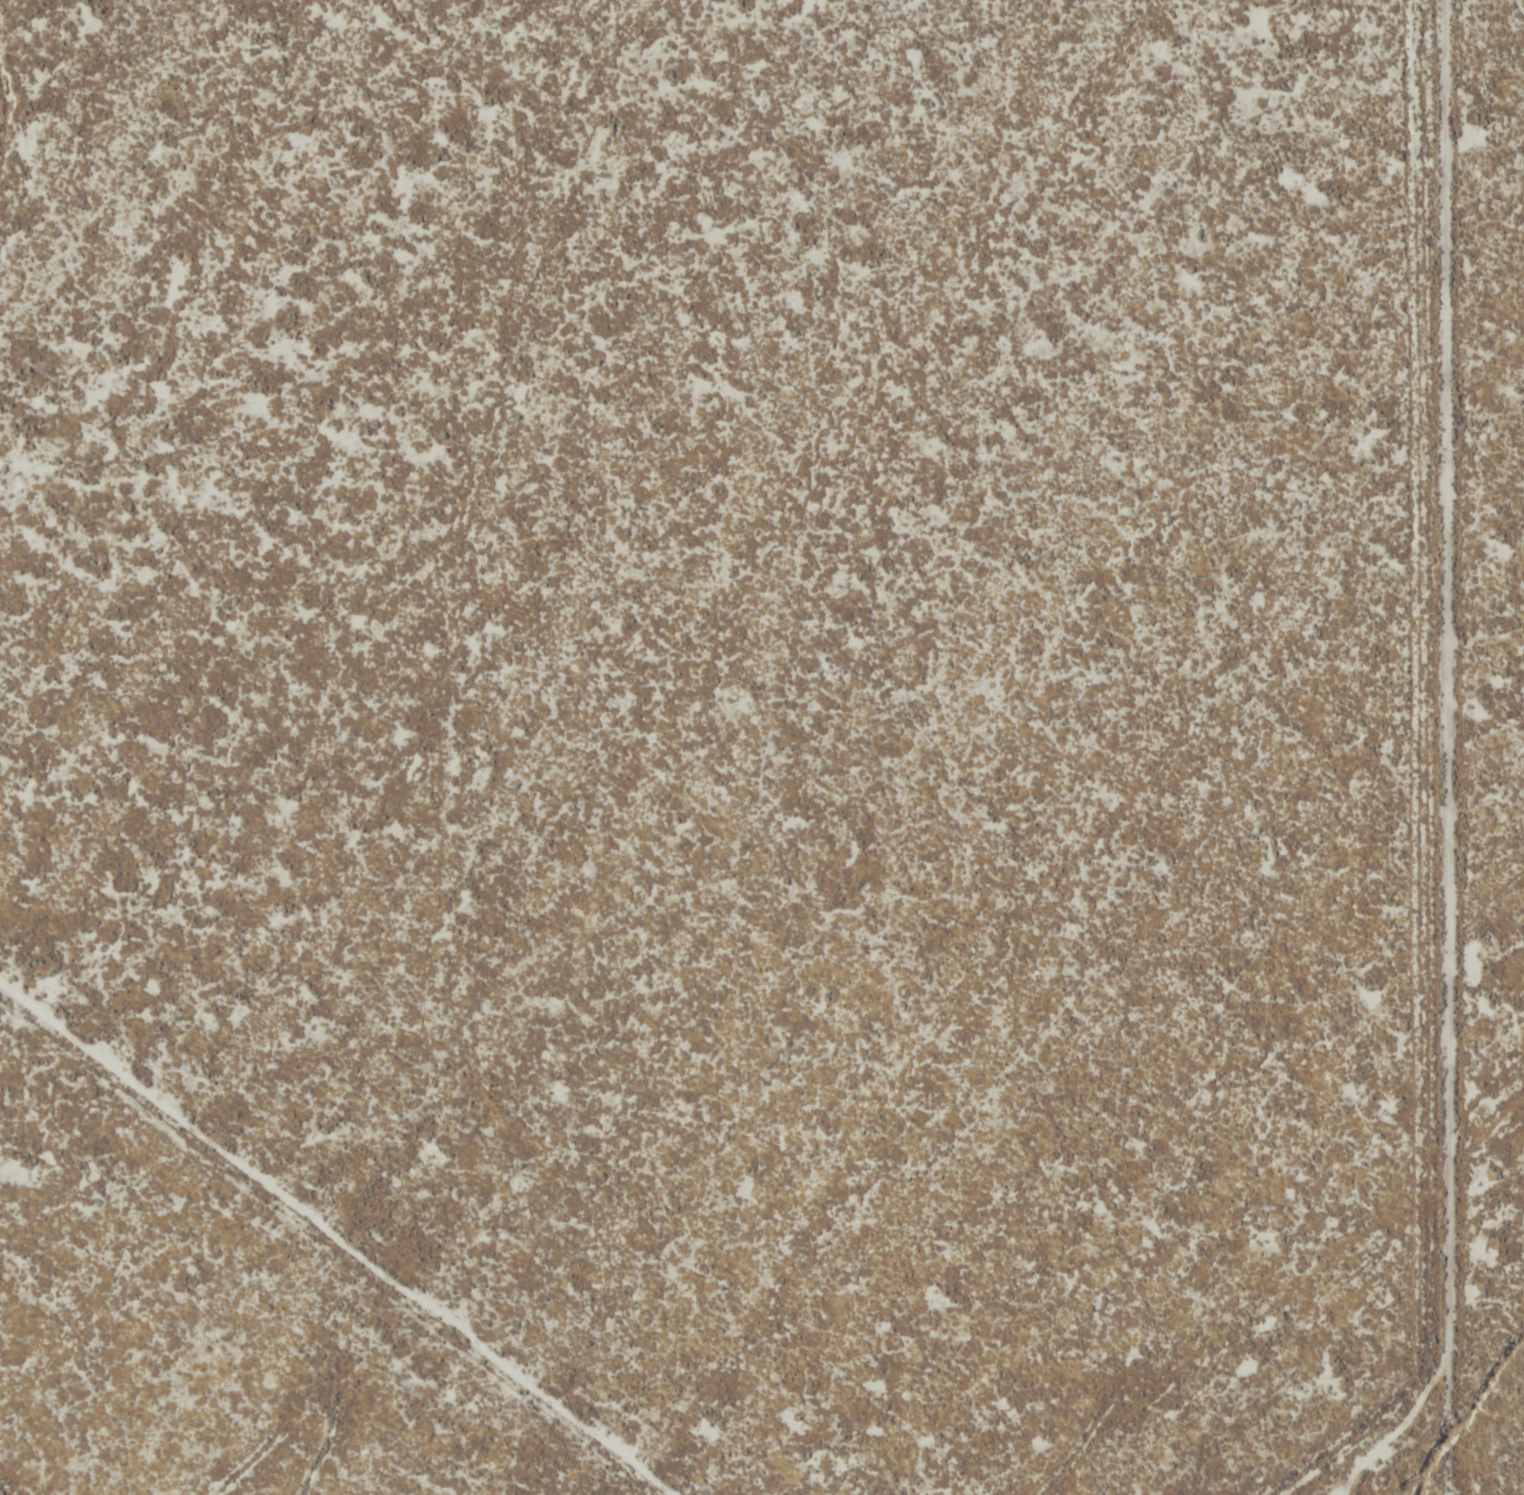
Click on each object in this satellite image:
road: (1448, 799)

